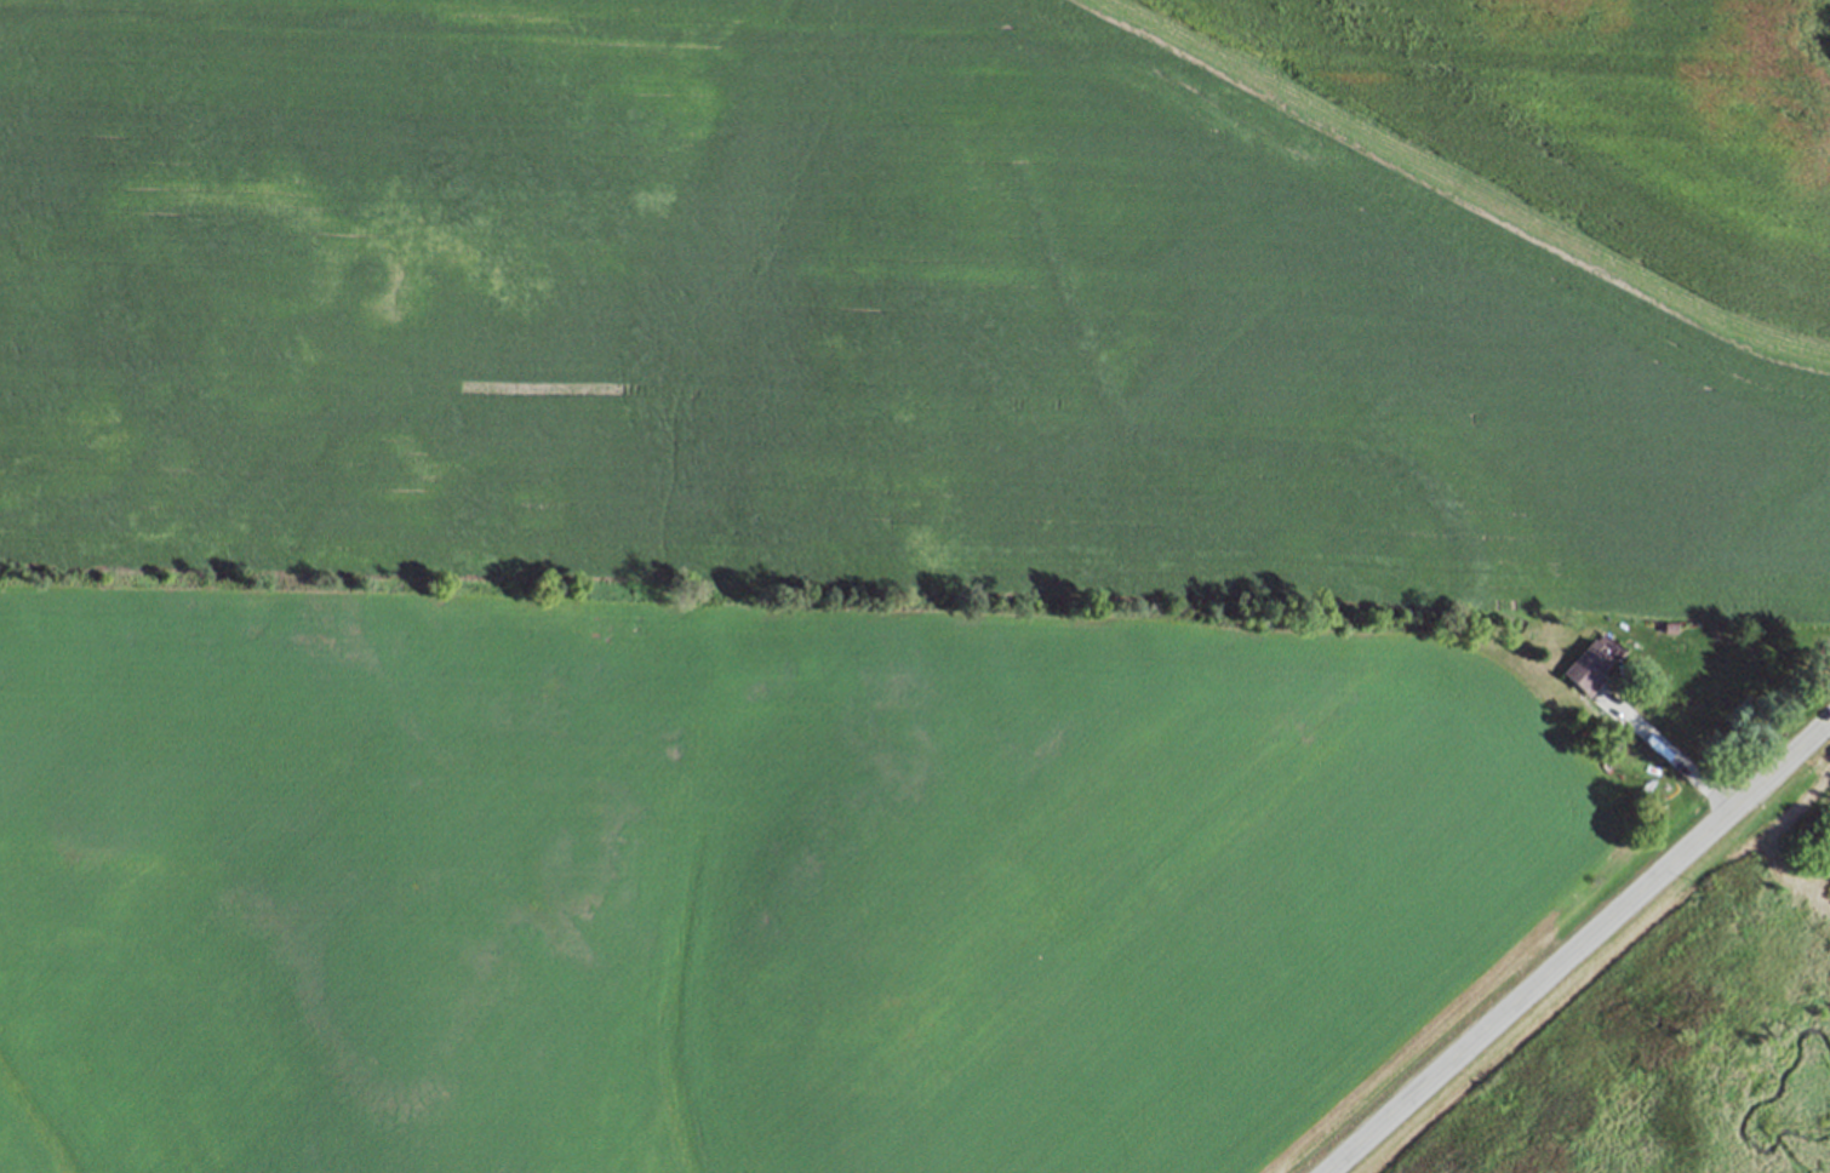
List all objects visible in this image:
building: (1669, 628)
building: (1588, 665)
road: (1671, 760)
road: (1578, 945)

